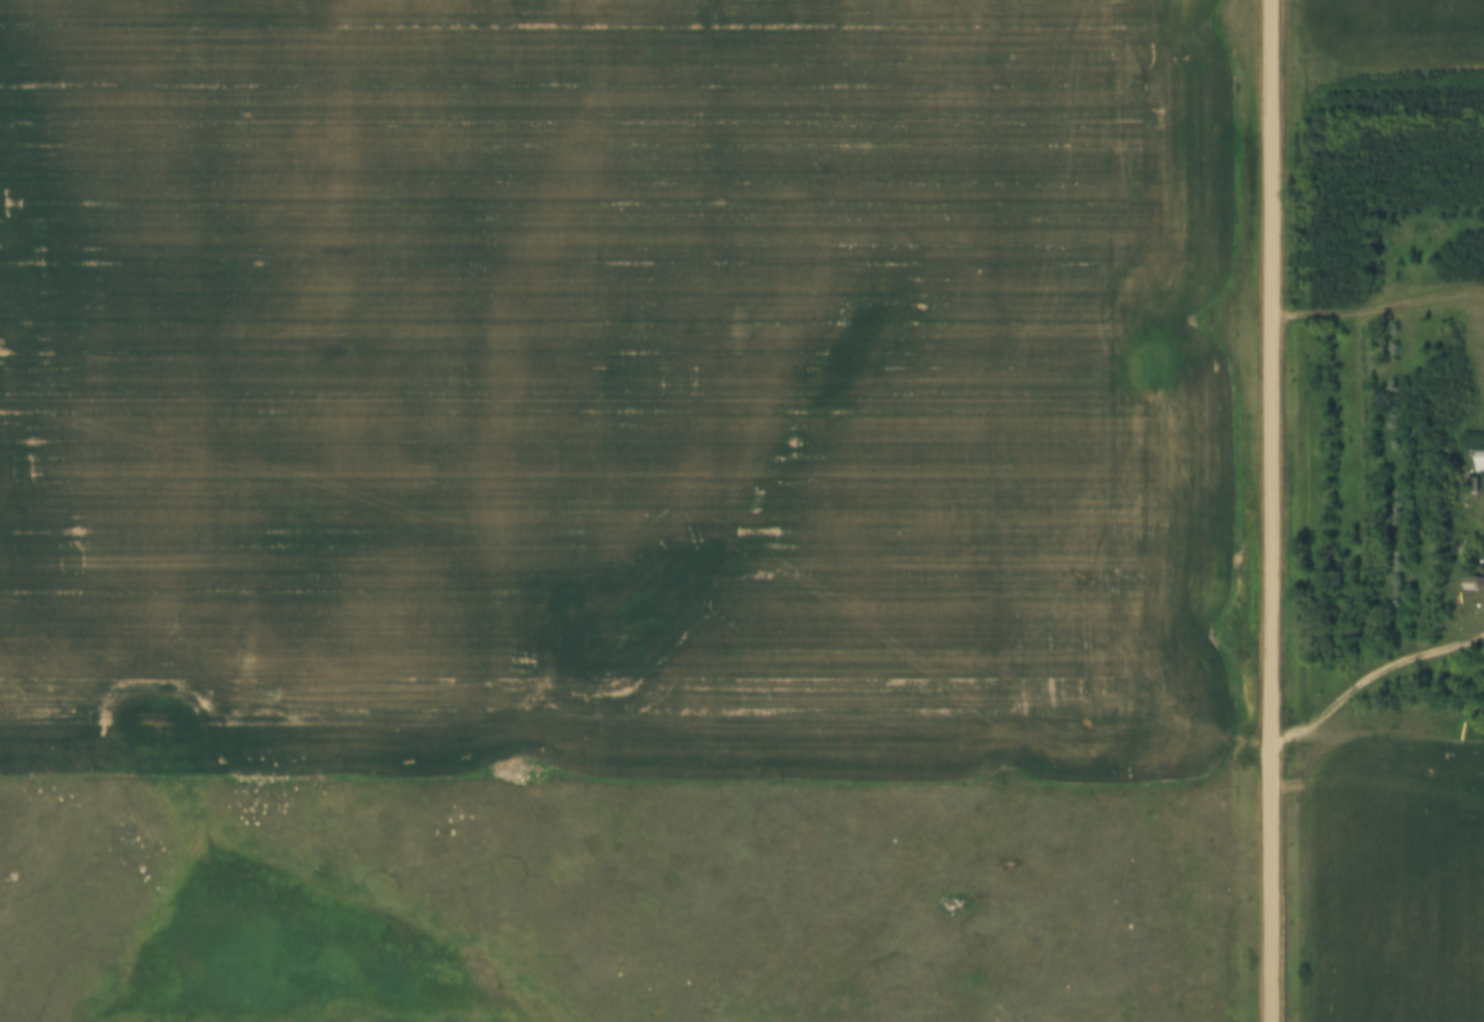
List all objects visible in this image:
road: (1376, 308)
road: (1268, 511)
road: (1369, 677)

